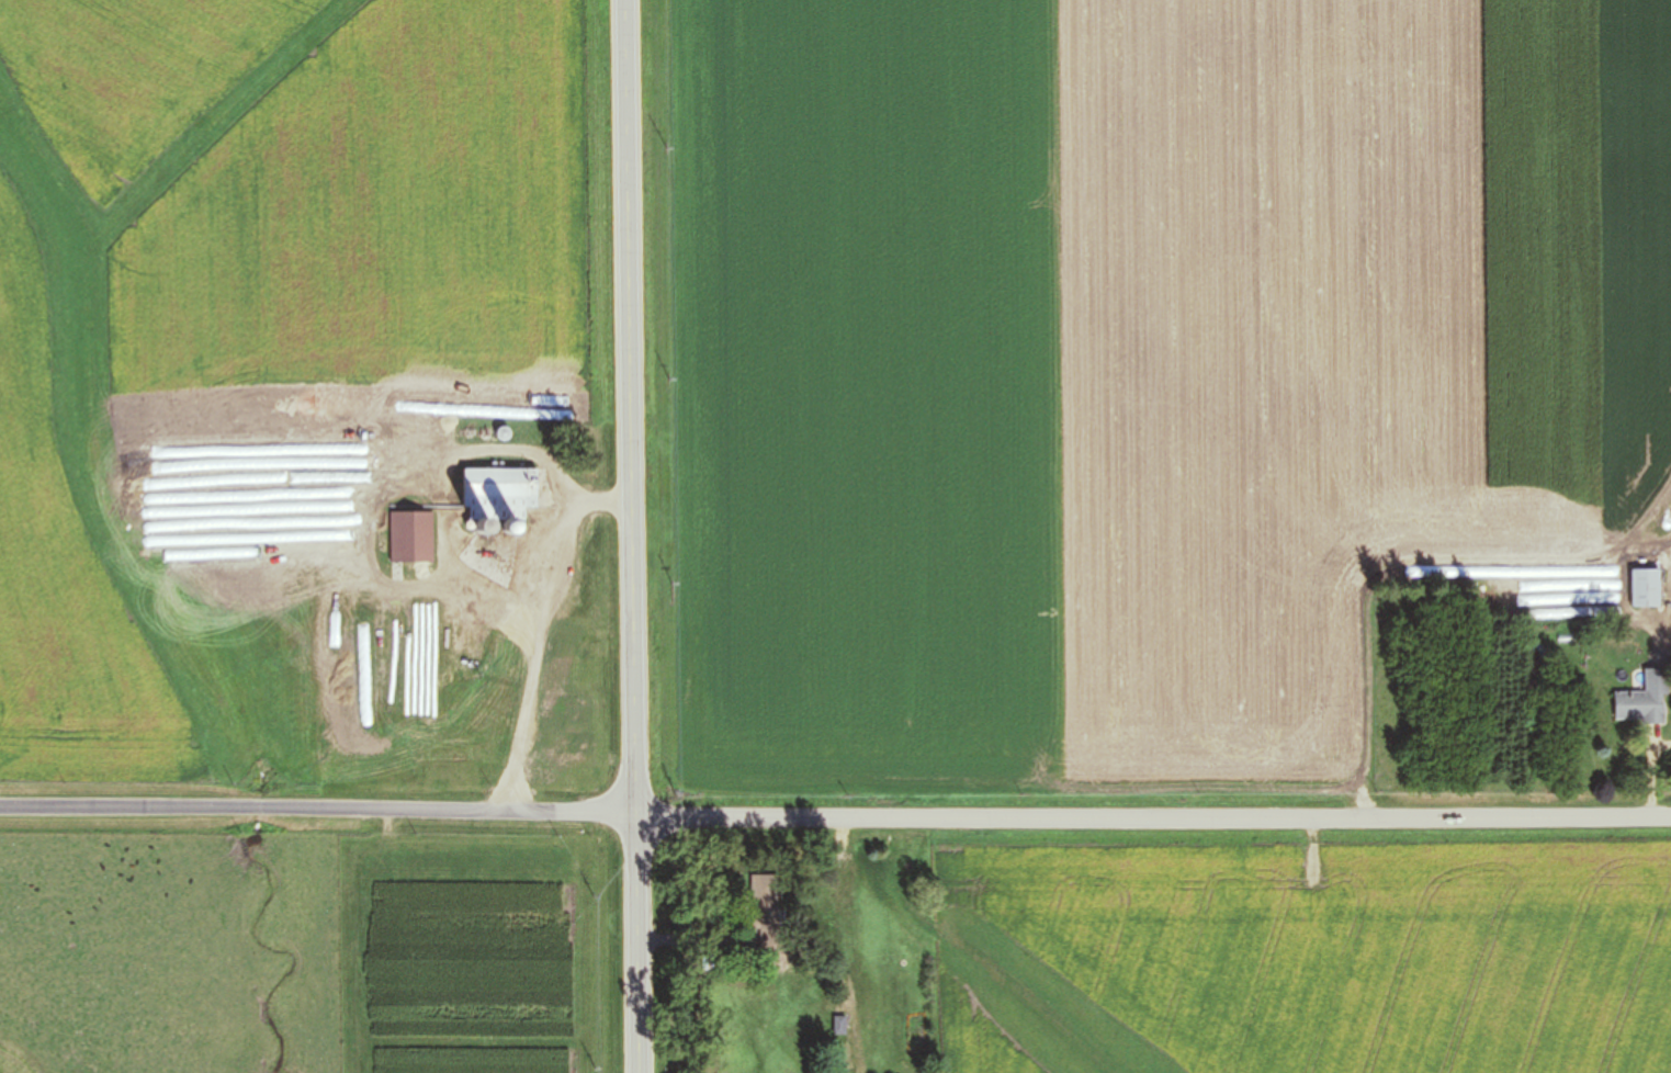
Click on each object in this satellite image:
building: (498, 498)
building: (347, 507)
road: (633, 535)
building: (411, 536)
building: (1646, 587)
building: (1639, 704)
building: (583, 743)
road: (1656, 776)
road: (318, 814)
road: (1154, 818)
building: (765, 902)

